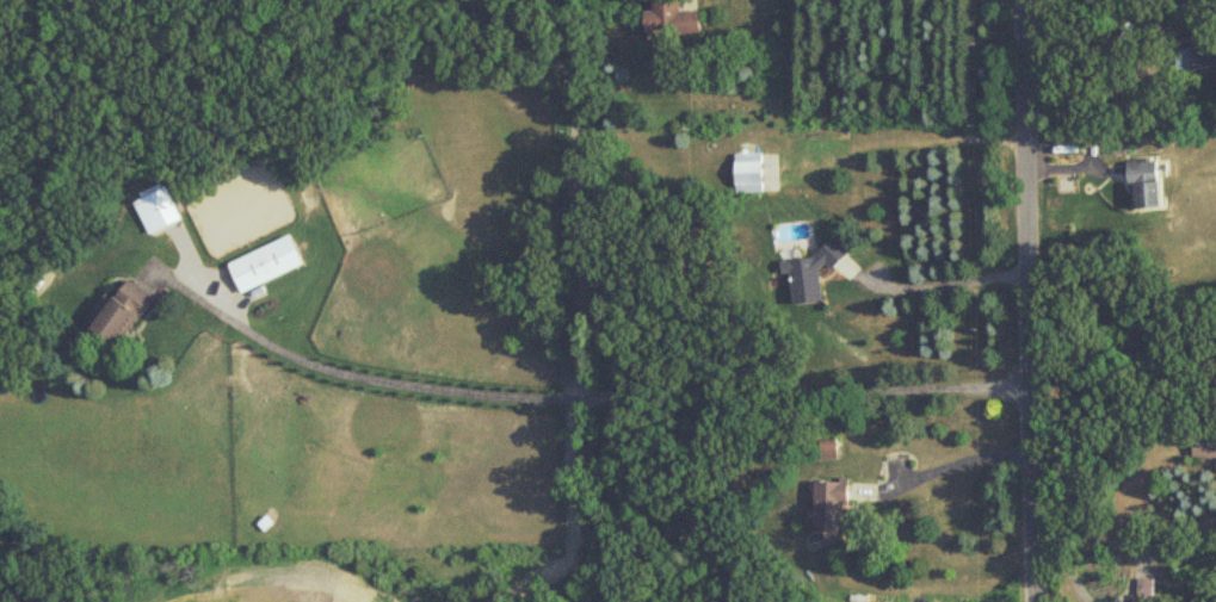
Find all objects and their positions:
road: (1035, 1)
building: (671, 19)
building: (1196, 57)
building: (749, 173)
road: (579, 181)
building: (1144, 184)
building: (265, 263)
building: (809, 273)
road: (950, 279)
road: (1033, 300)
building: (122, 314)
road: (616, 396)
building: (1205, 445)
building: (829, 451)
road: (958, 452)
building: (829, 510)
road: (1129, 542)
building: (1144, 598)

